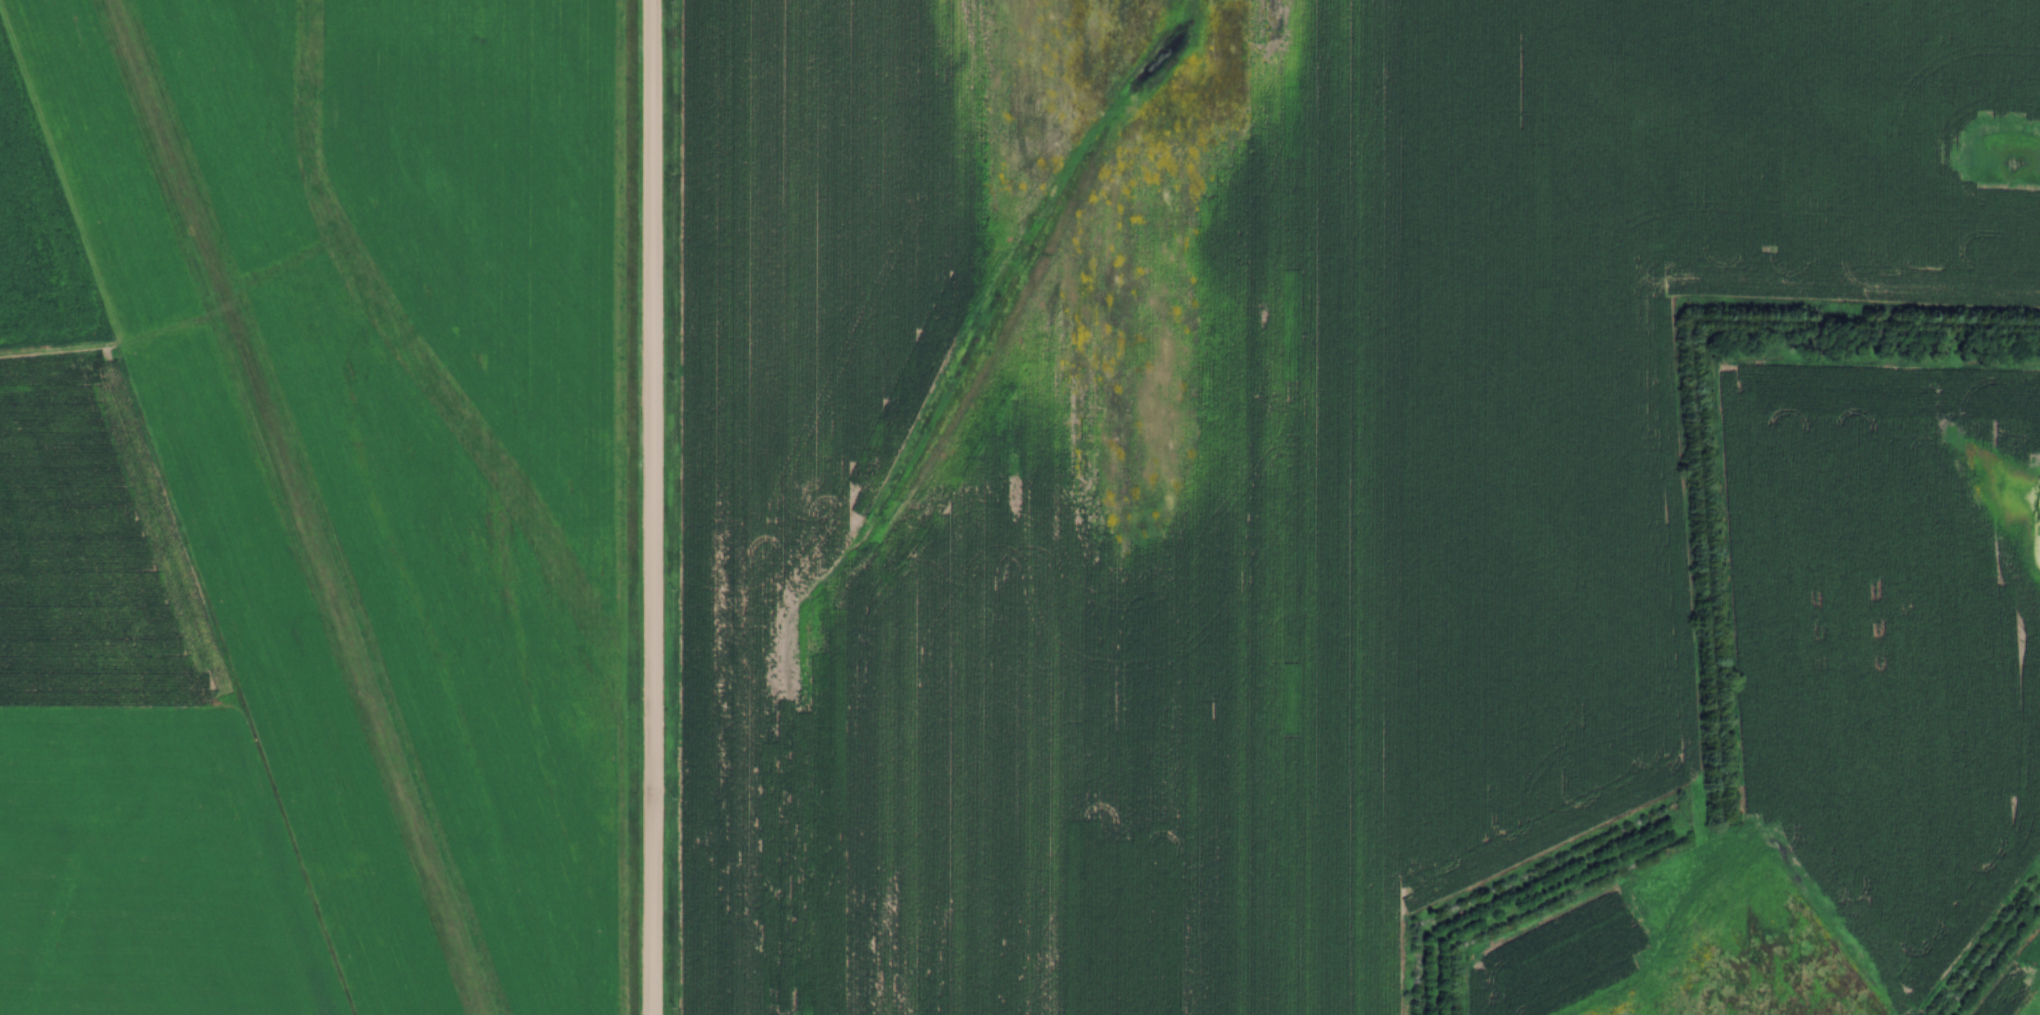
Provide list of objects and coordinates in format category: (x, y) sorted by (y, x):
airport runway: (304, 507)
road: (649, 507)

